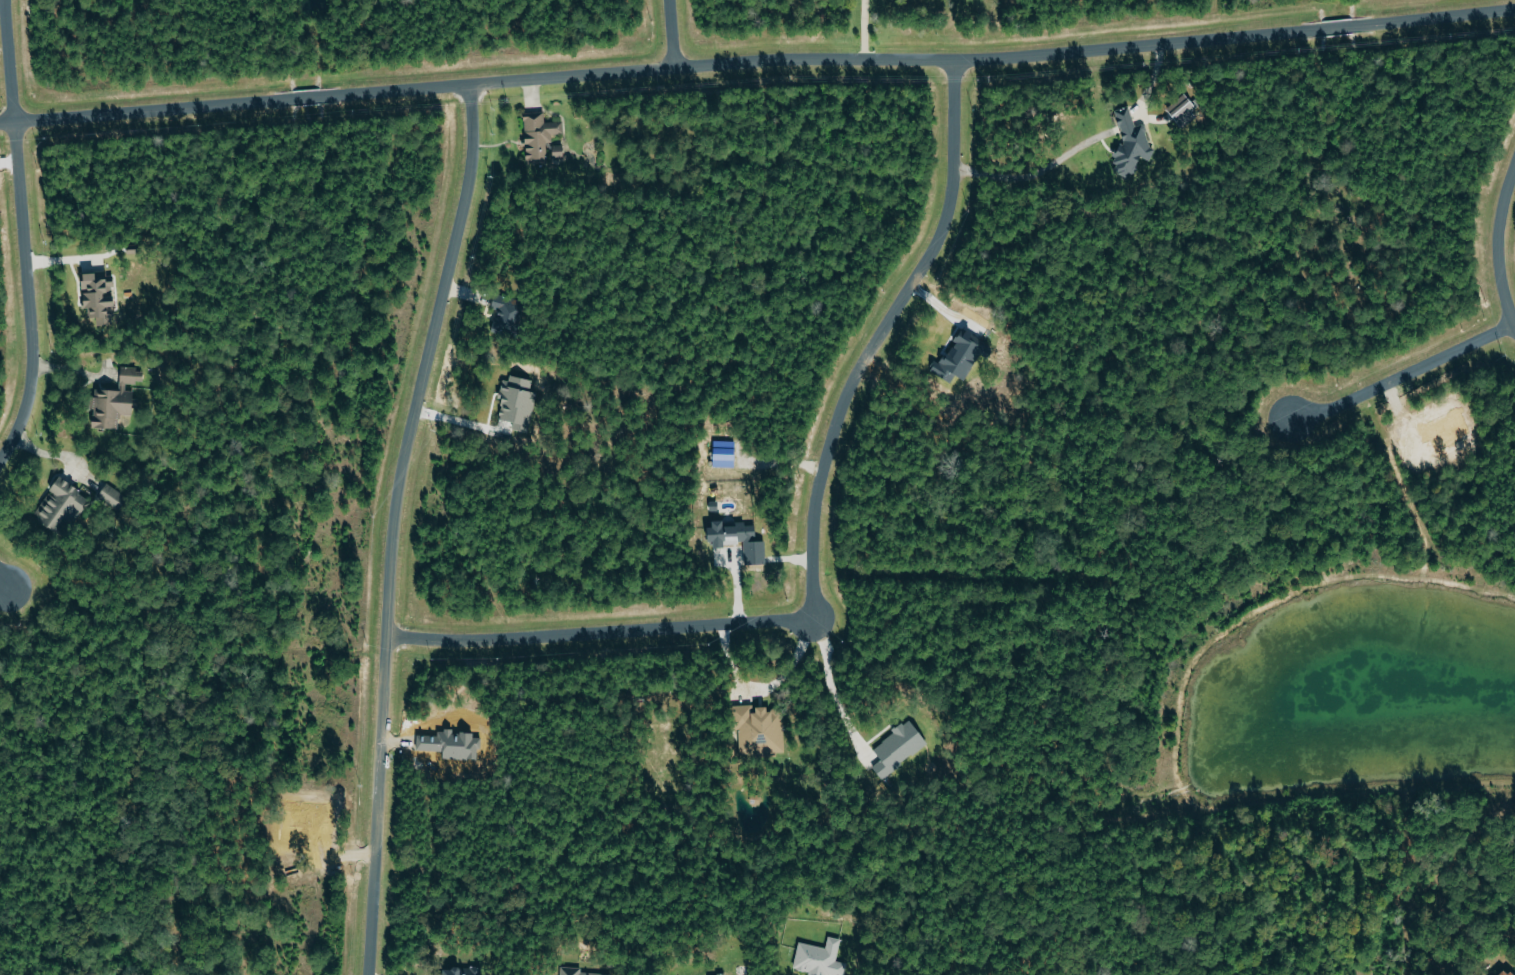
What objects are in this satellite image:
road: (868, 30)
road: (670, 33)
road: (757, 61)
building: (1182, 110)
building: (540, 134)
building: (1131, 143)
building: (558, 151)
road: (1032, 178)
road: (21, 232)
road: (1496, 251)
building: (98, 297)
road: (1402, 376)
building: (115, 400)
building: (724, 454)
road: (52, 456)
building: (112, 496)
building: (60, 506)
road: (393, 525)
road: (812, 534)
building: (739, 539)
road: (10, 574)
road: (824, 685)
road: (765, 686)
building: (753, 729)
building: (900, 745)
building: (819, 958)
building: (460, 971)
building: (574, 971)
building: (1506, 972)

